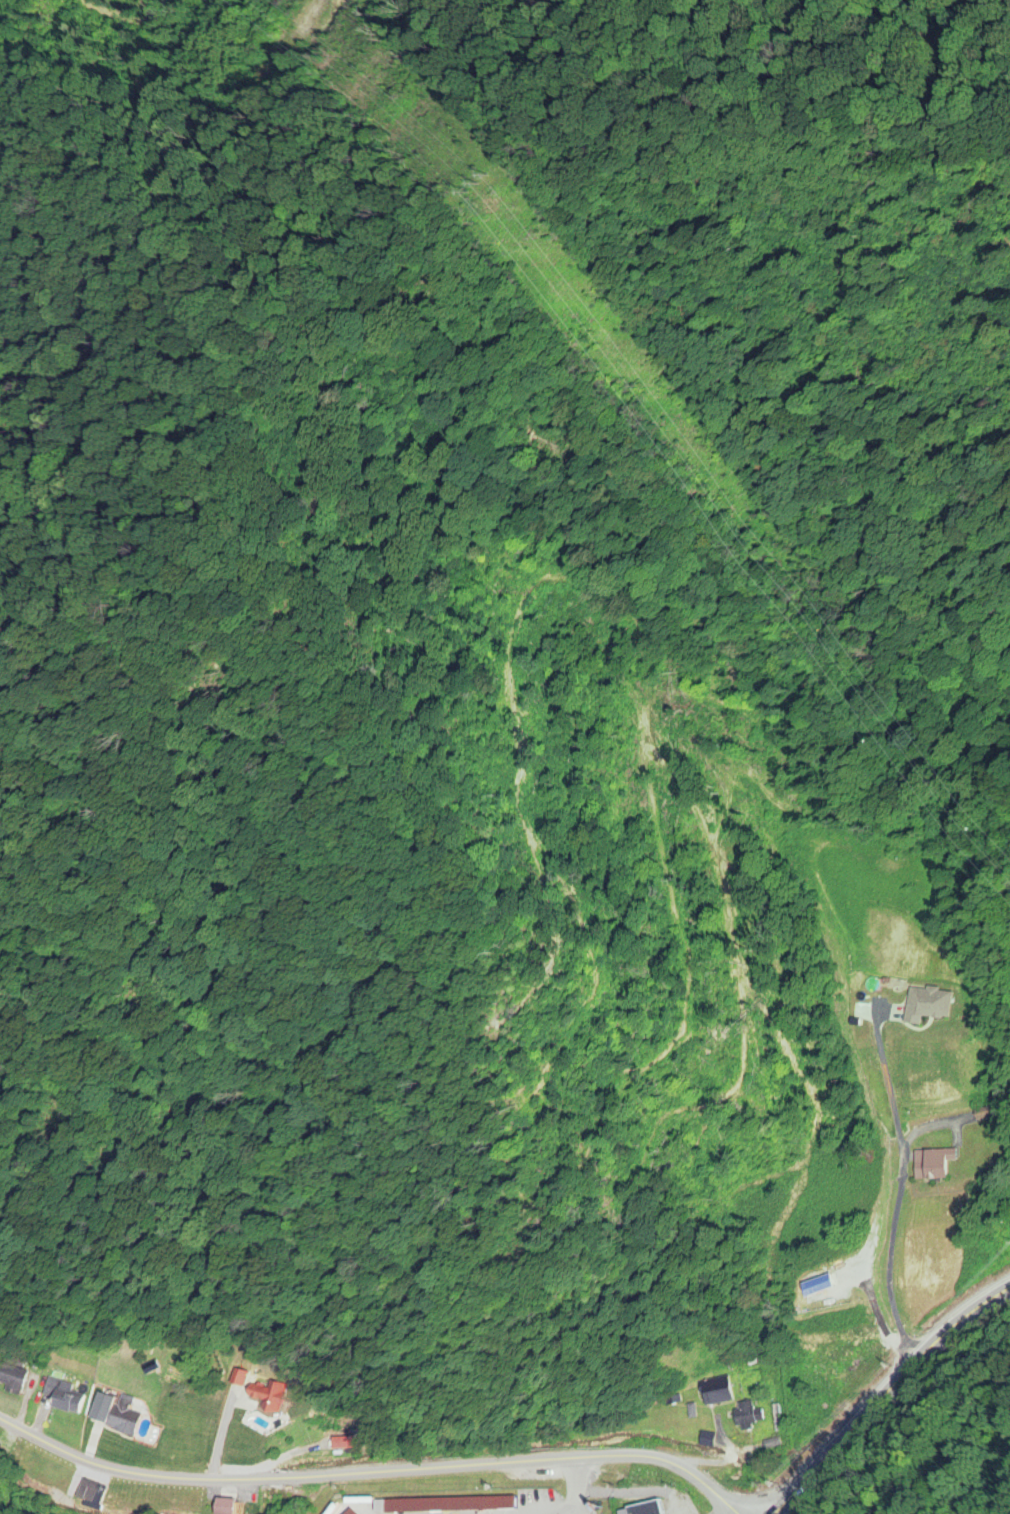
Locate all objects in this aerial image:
building: (930, 1164)
road: (893, 1228)
building: (820, 1290)
building: (238, 1378)
building: (11, 1379)
building: (714, 1391)
road: (885, 1395)
building: (264, 1396)
building: (62, 1397)
building: (113, 1413)
building: (743, 1416)
road: (377, 1467)
building: (446, 1506)
building: (643, 1508)
building: (348, 1512)

